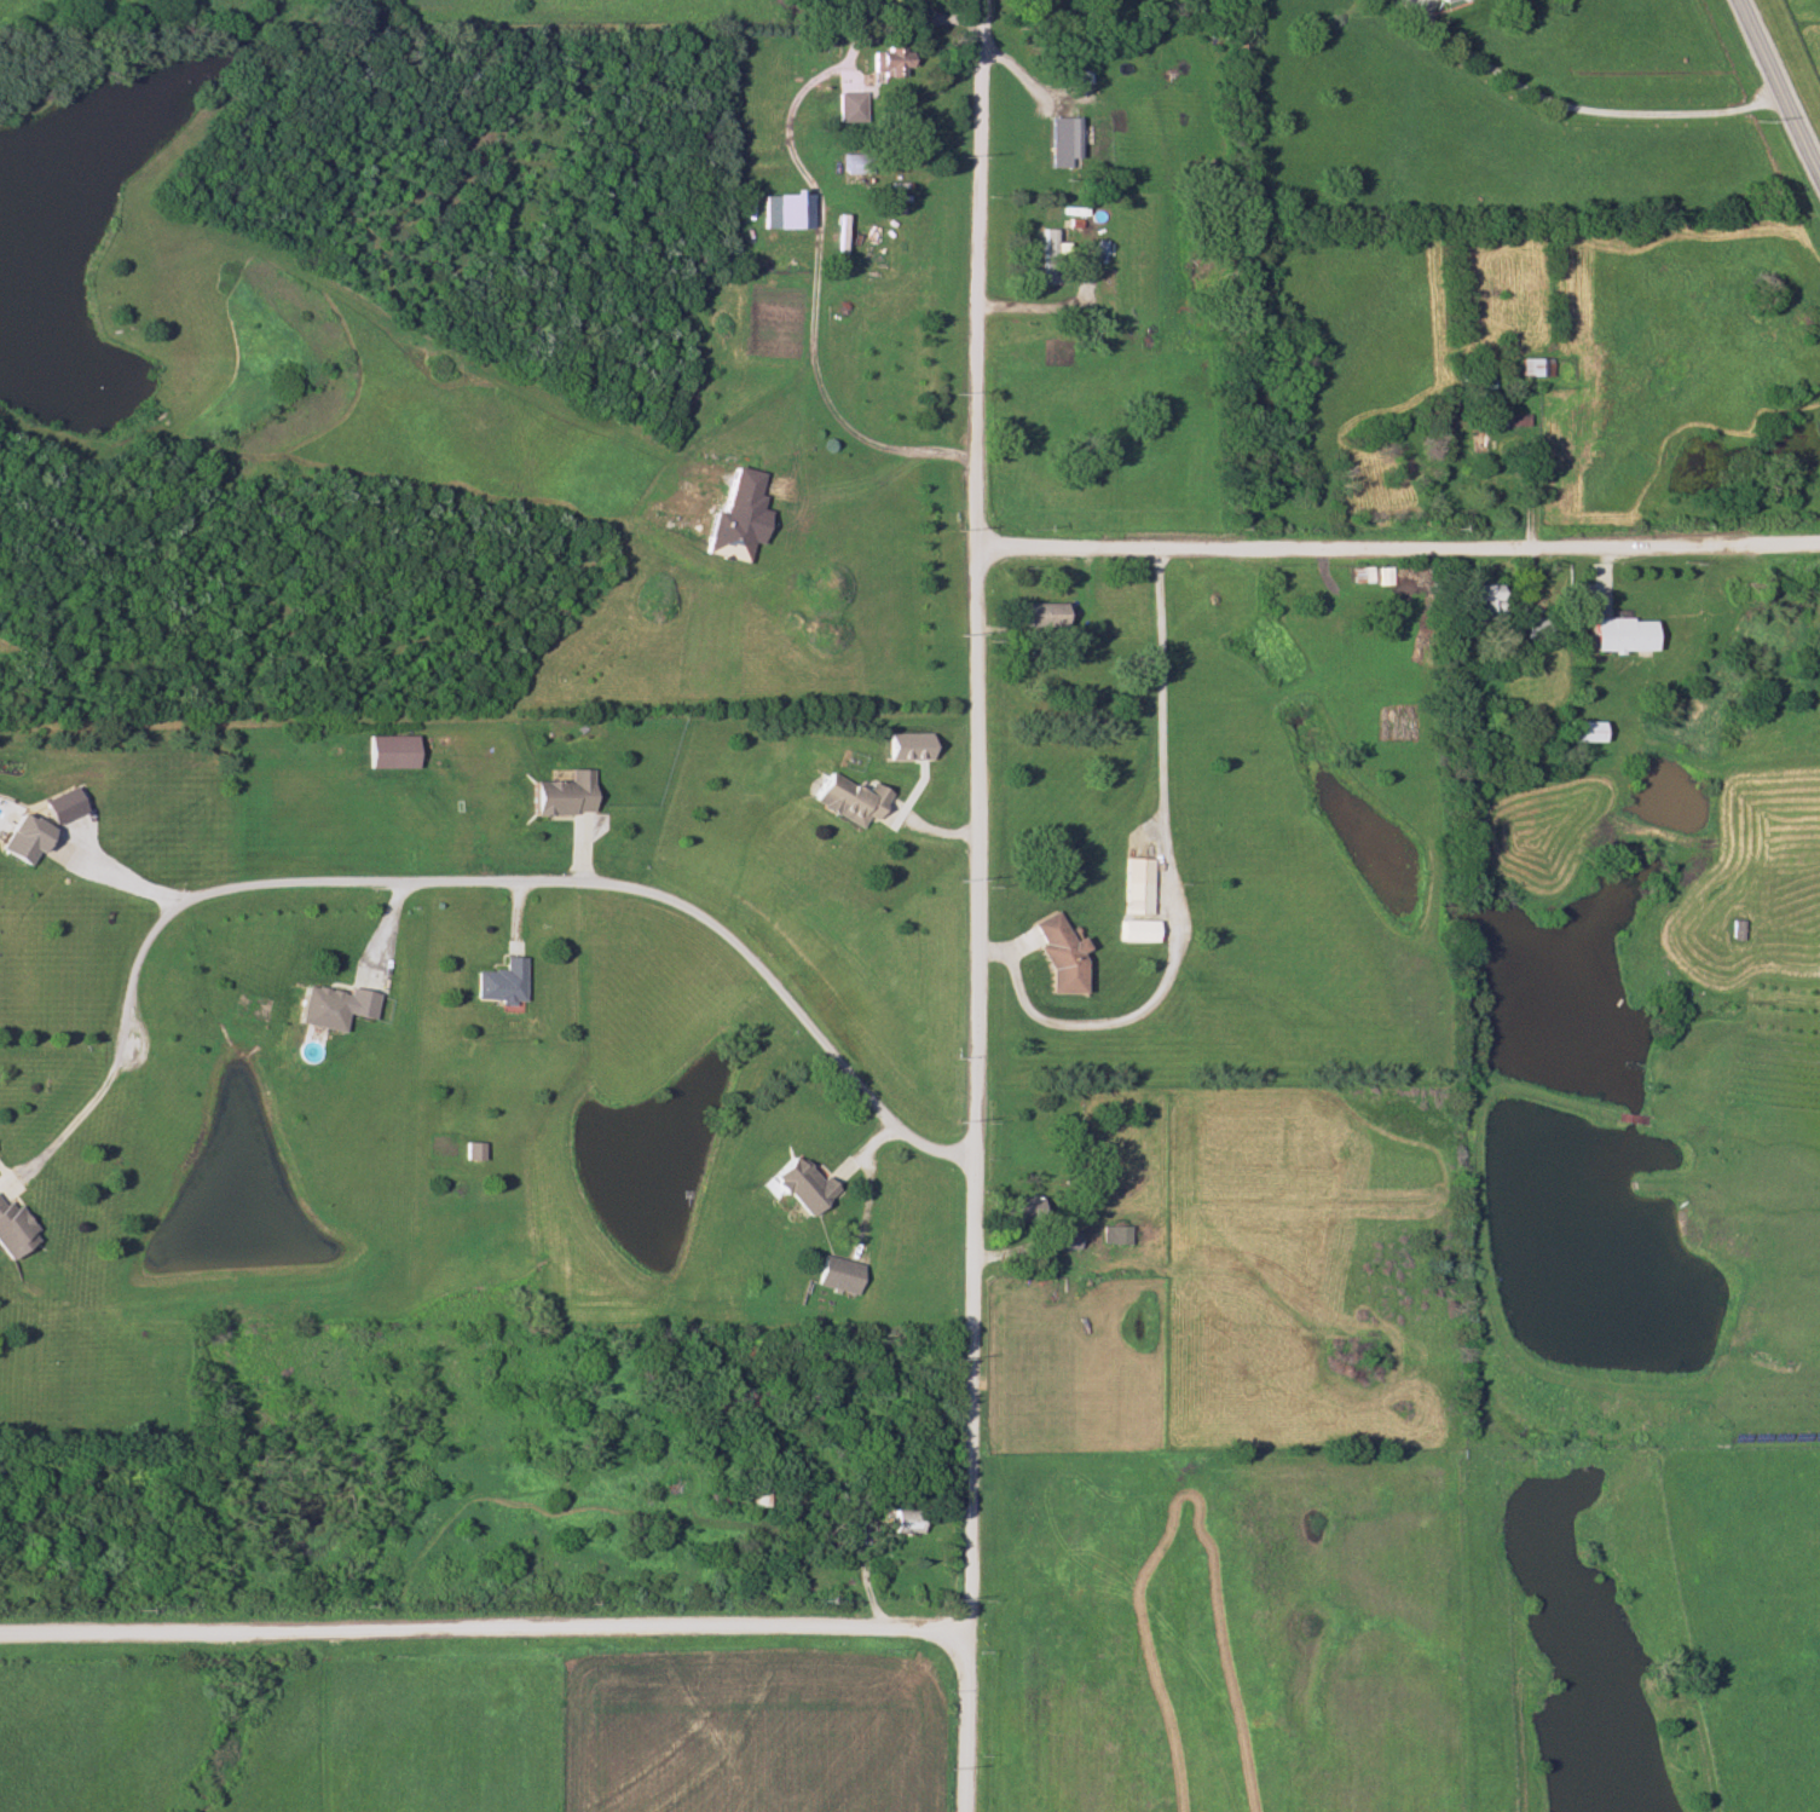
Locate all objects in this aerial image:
building: (1437, 0)
building: (889, 57)
building: (1080, 74)
road: (1780, 87)
building: (848, 105)
road: (1576, 115)
building: (1069, 134)
building: (853, 162)
building: (785, 209)
building: (1046, 255)
road: (819, 302)
building: (1532, 367)
building: (1477, 383)
building: (1510, 419)
building: (1053, 421)
building: (1474, 439)
building: (1405, 458)
road: (1398, 550)
building: (1360, 572)
building: (1477, 599)
building: (1036, 613)
building: (1531, 627)
building: (1618, 634)
building: (1579, 731)
building: (386, 751)
building: (560, 794)
building: (848, 800)
road: (977, 832)
building: (18, 838)
road: (111, 883)
road: (450, 883)
building: (1136, 885)
road: (1168, 891)
building: (1056, 959)
building: (496, 981)
building: (318, 1008)
building: (469, 1150)
building: (799, 1185)
road: (876, 1191)
building: (1022, 1208)
building: (11, 1230)
building: (1111, 1235)
building: (1064, 1240)
building: (839, 1274)
building: (755, 1493)
building: (718, 1499)
building: (903, 1520)
road: (487, 1626)
road: (966, 1738)

